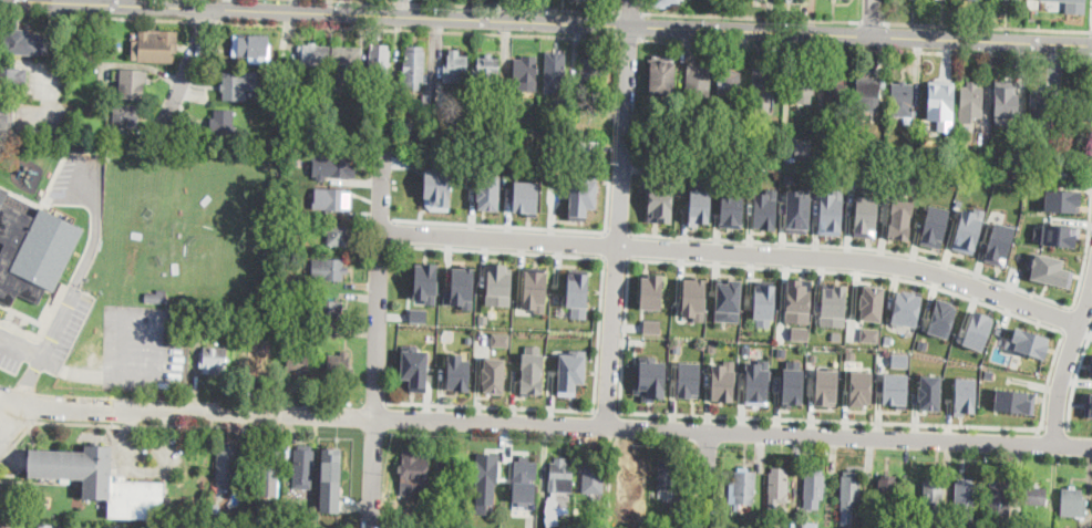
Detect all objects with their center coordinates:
building: (973, 0)
road: (167, 2)
building: (668, 3)
road: (485, 4)
building: (1074, 6)
road: (628, 10)
road: (96, 15)
road: (750, 15)
road: (873, 17)
road: (1091, 18)
road: (870, 20)
road: (204, 21)
road: (567, 21)
road: (987, 24)
road: (418, 28)
road: (629, 37)
building: (23, 41)
building: (155, 45)
building: (250, 46)
building: (75, 48)
road: (865, 49)
building: (313, 55)
building: (378, 62)
building: (348, 64)
building: (413, 66)
building: (455, 68)
road: (184, 70)
building: (485, 72)
building: (553, 72)
building: (525, 74)
building: (593, 74)
building: (660, 76)
building: (12, 79)
building: (699, 79)
building: (296, 80)
building: (801, 80)
building: (729, 83)
building: (132, 84)
building: (883, 84)
building: (234, 87)
building: (762, 87)
building: (938, 93)
building: (460, 96)
building: (867, 96)
building: (1007, 96)
building: (902, 99)
building: (837, 100)
building: (1042, 100)
building: (1075, 101)
building: (278, 102)
building: (426, 102)
building: (971, 102)
building: (324, 103)
building: (577, 103)
building: (494, 105)
building: (512, 106)
building: (6, 115)
building: (124, 116)
building: (686, 124)
building: (223, 125)
building: (512, 125)
building: (321, 128)
building: (403, 130)
building: (950, 131)
building: (336, 142)
building: (511, 144)
building: (588, 145)
building: (803, 145)
building: (564, 146)
building: (752, 153)
building: (736, 155)
building: (341, 165)
building: (1018, 169)
building: (1050, 169)
building: (1031, 172)
building: (1063, 174)
parking lot: (79, 179)
building: (872, 183)
building: (907, 183)
building: (437, 185)
building: (487, 190)
road: (381, 193)
building: (581, 195)
building: (525, 197)
building: (336, 198)
building: (660, 199)
building: (1061, 200)
building: (700, 205)
building: (731, 206)
building: (289, 208)
building: (759, 211)
building: (796, 211)
road: (620, 213)
building: (830, 214)
building: (866, 216)
building: (902, 218)
road: (524, 226)
building: (930, 226)
road: (618, 229)
building: (967, 230)
building: (338, 234)
building: (1054, 235)
building: (999, 242)
road: (605, 245)
road: (630, 246)
building: (32, 248)
building: (286, 248)
road: (499, 249)
road: (734, 250)
road: (903, 251)
building: (285, 260)
road: (617, 260)
building: (328, 269)
building: (1050, 270)
building: (282, 271)
building: (426, 281)
building: (499, 283)
building: (461, 288)
building: (535, 288)
building: (577, 291)
building: (651, 291)
road: (73, 292)
building: (157, 294)
building: (694, 296)
building: (729, 298)
building: (799, 300)
building: (764, 301)
building: (834, 303)
building: (867, 303)
road: (1081, 308)
building: (327, 309)
building: (902, 309)
building: (171, 313)
building: (288, 313)
building: (419, 314)
building: (184, 317)
road: (1067, 317)
building: (483, 318)
road: (1028, 318)
building: (936, 319)
building: (168, 324)
building: (200, 324)
building: (651, 325)
road: (377, 327)
building: (971, 330)
building: (800, 332)
building: (868, 334)
parking lot: (48, 335)
road: (600, 335)
road: (1075, 335)
building: (501, 339)
building: (1023, 343)
parking lot: (143, 346)
road: (21, 348)
building: (308, 348)
building: (746, 349)
building: (260, 358)
building: (900, 359)
building: (213, 360)
road: (1065, 362)
building: (297, 363)
building: (340, 365)
building: (1091, 365)
building: (414, 366)
building: (532, 369)
building: (571, 371)
building: (459, 372)
building: (493, 374)
road: (1075, 376)
building: (651, 377)
building: (689, 379)
building: (723, 380)
building: (758, 382)
building: (793, 385)
building: (826, 385)
building: (861, 386)
building: (895, 389)
building: (930, 391)
building: (964, 394)
building: (1014, 400)
building: (1086, 404)
road: (515, 408)
road: (185, 412)
road: (607, 413)
road: (9, 417)
road: (16, 420)
road: (1053, 425)
road: (122, 426)
road: (732, 429)
road: (16, 442)
building: (226, 464)
building: (270, 465)
building: (447, 467)
building: (303, 468)
building: (414, 472)
road: (371, 474)
building: (669, 474)
building: (560, 476)
building: (593, 476)
building: (632, 478)
road: (707, 478)
building: (330, 479)
building: (100, 480)
building: (485, 480)
building: (524, 484)
building: (779, 487)
building: (743, 488)
building: (814, 488)
building: (1000, 494)
building: (848, 495)
building: (1037, 495)
building: (684, 497)
building: (933, 497)
building: (434, 498)
building: (888, 498)
building: (965, 500)
building: (1073, 501)
building: (216, 507)
building: (552, 508)
building: (274, 519)
building: (308, 519)
building: (2, 525)
building: (164, 525)
building: (810, 525)
building: (116, 526)
building: (47, 527)
building: (543, 527)
building: (752, 527)

